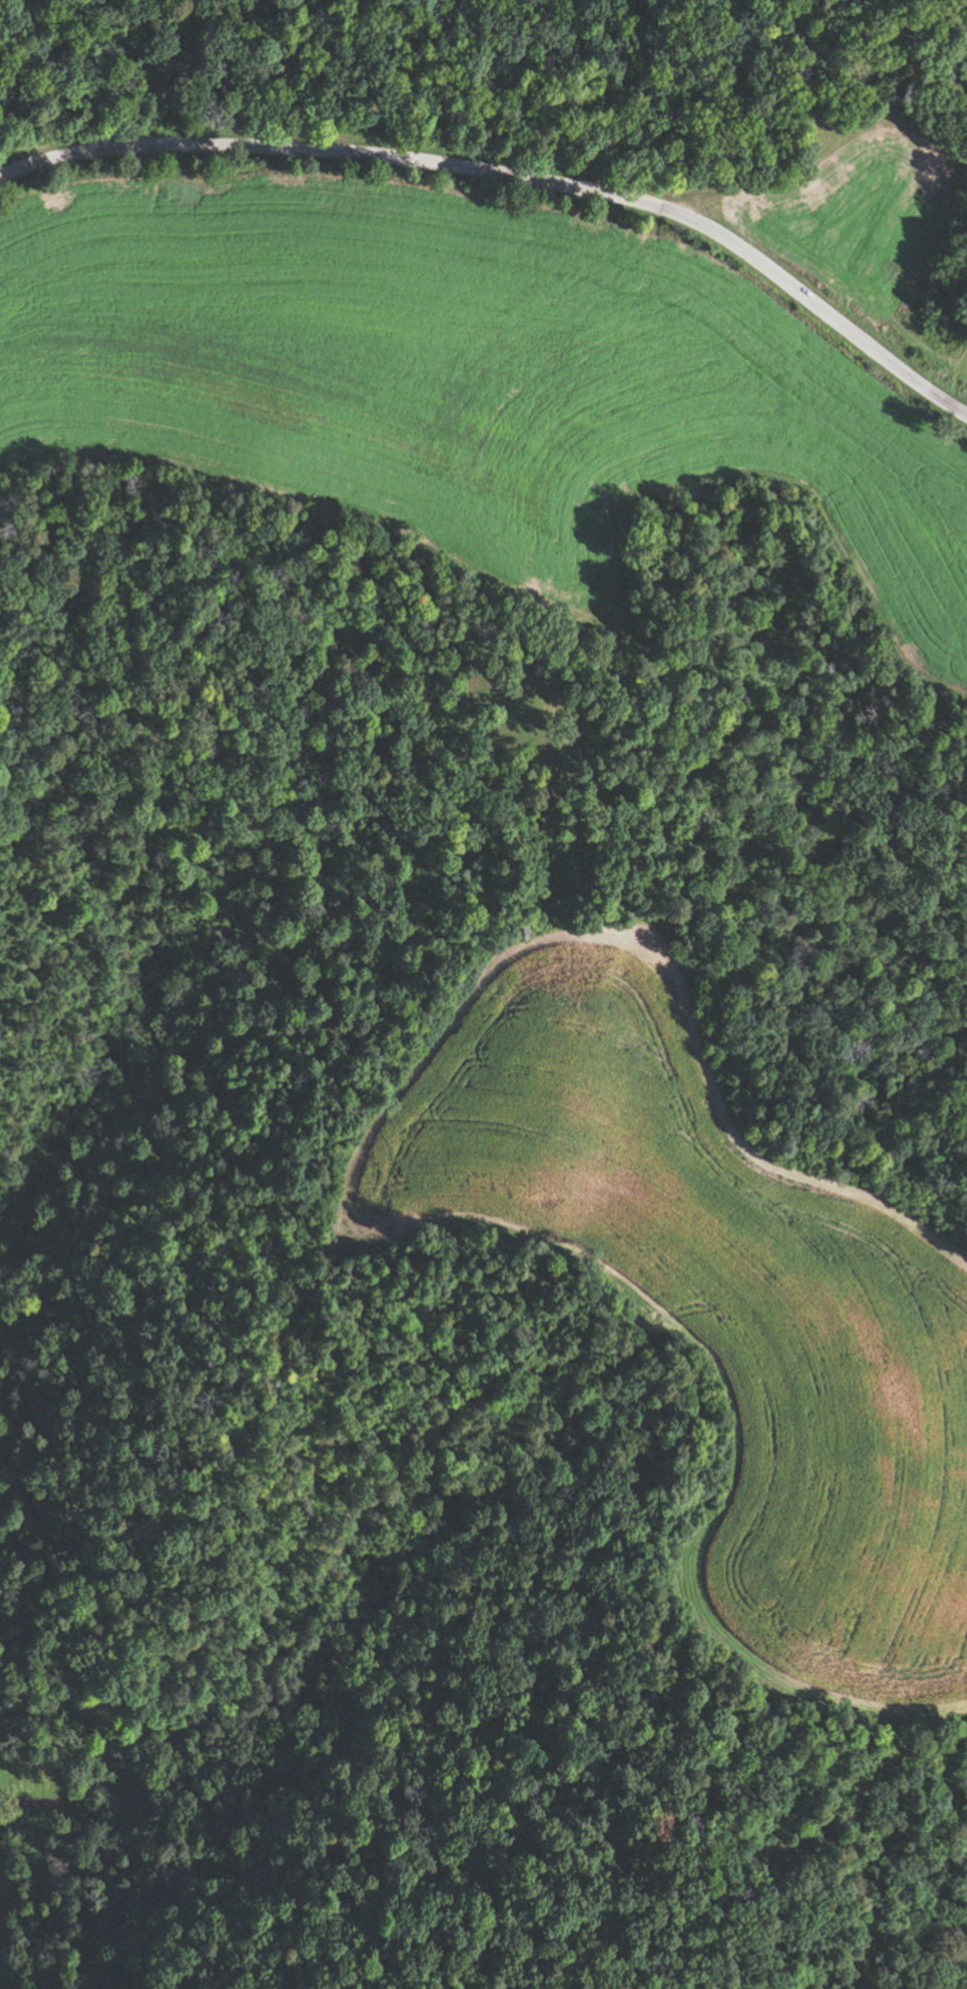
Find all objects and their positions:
road: (500, 199)

